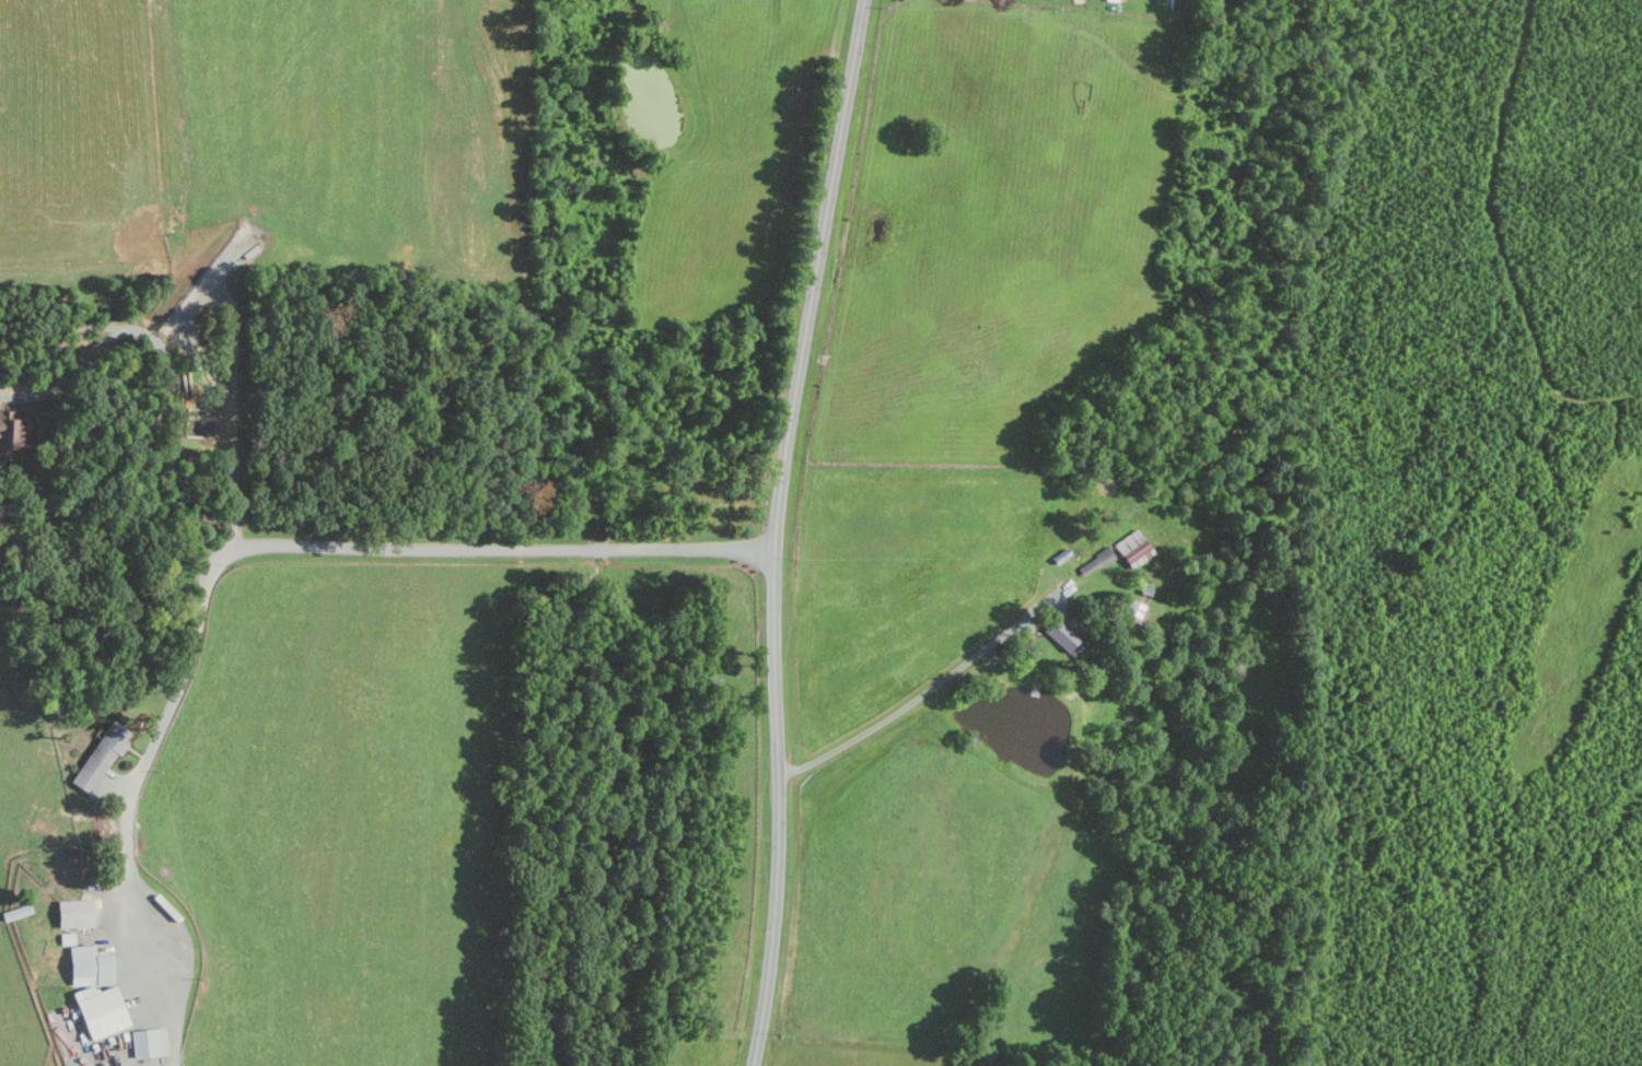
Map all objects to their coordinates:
road: (172, 372)
building: (12, 433)
road: (778, 530)
road: (291, 544)
building: (1134, 548)
road: (912, 700)
building: (102, 758)
building: (75, 913)
building: (67, 938)
building: (90, 967)
building: (102, 1011)
building: (149, 1043)

